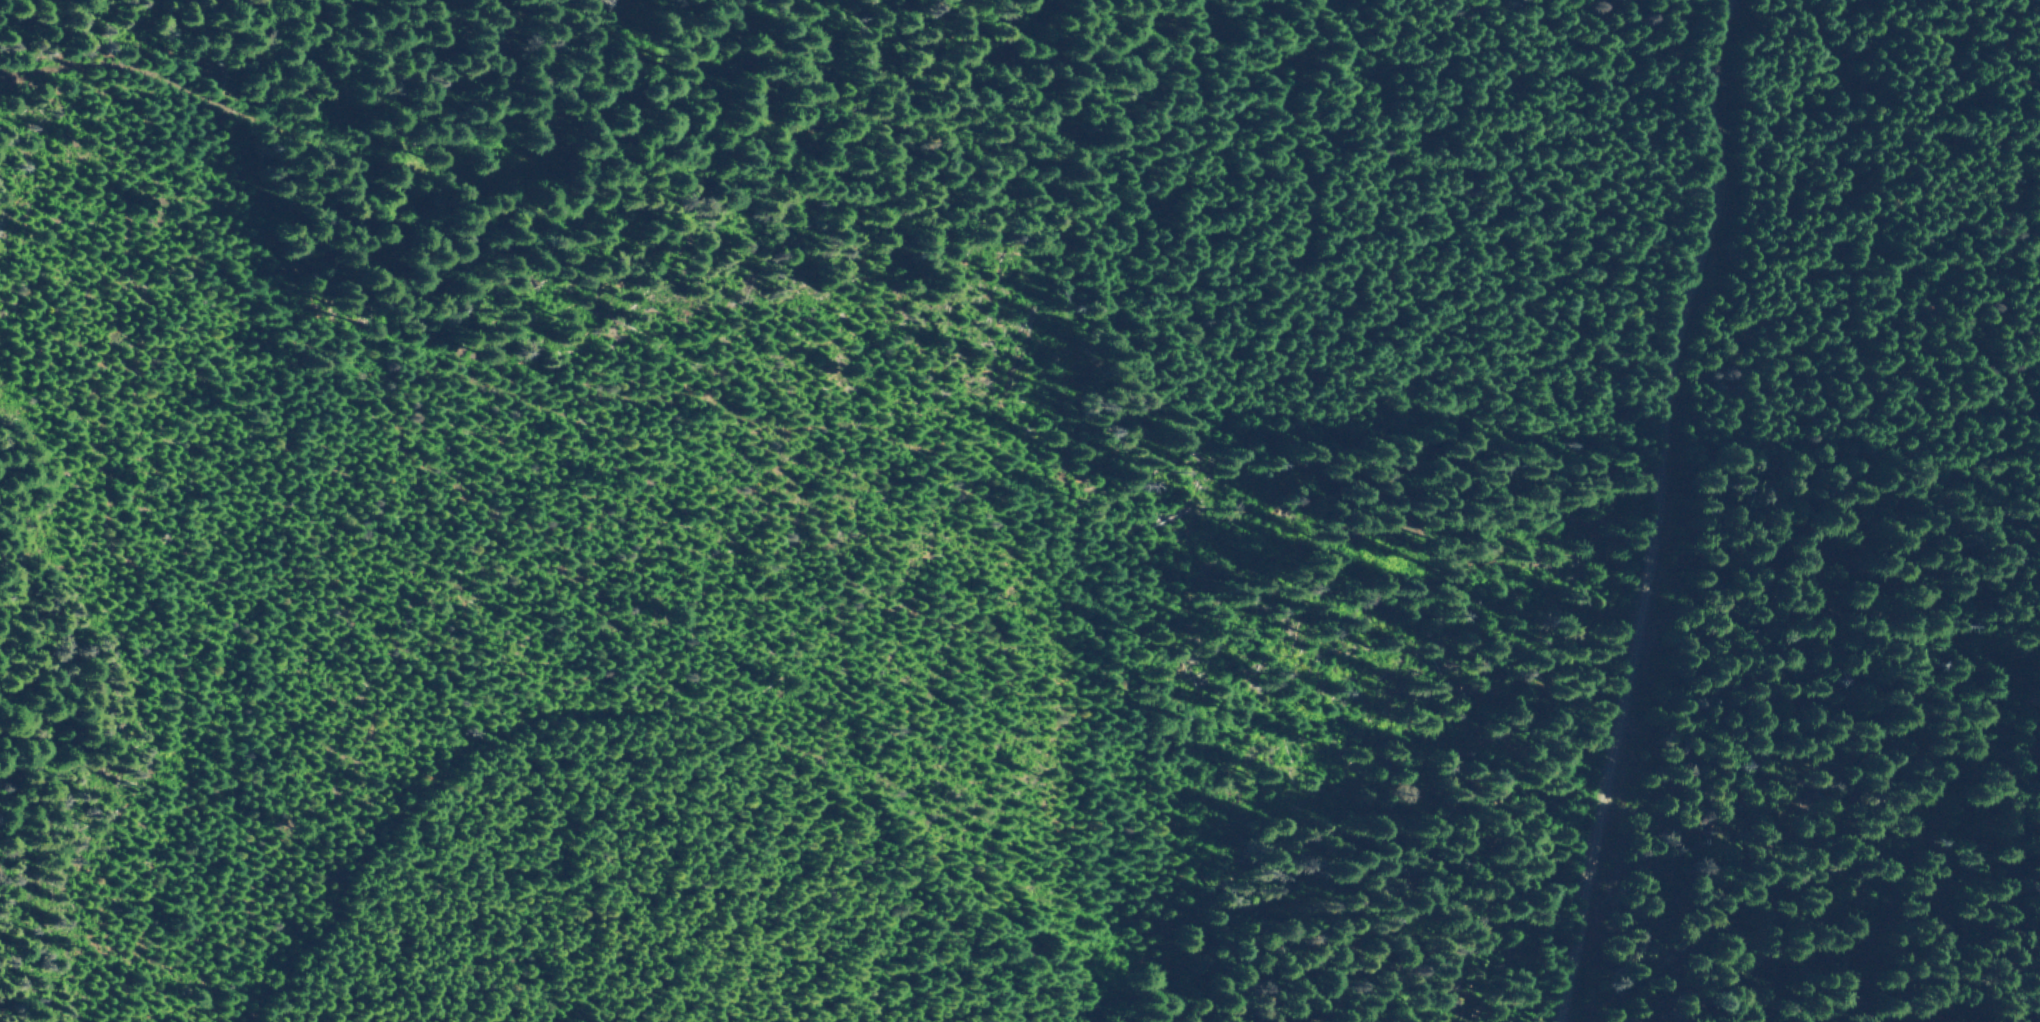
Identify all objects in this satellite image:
road: (1649, 512)

